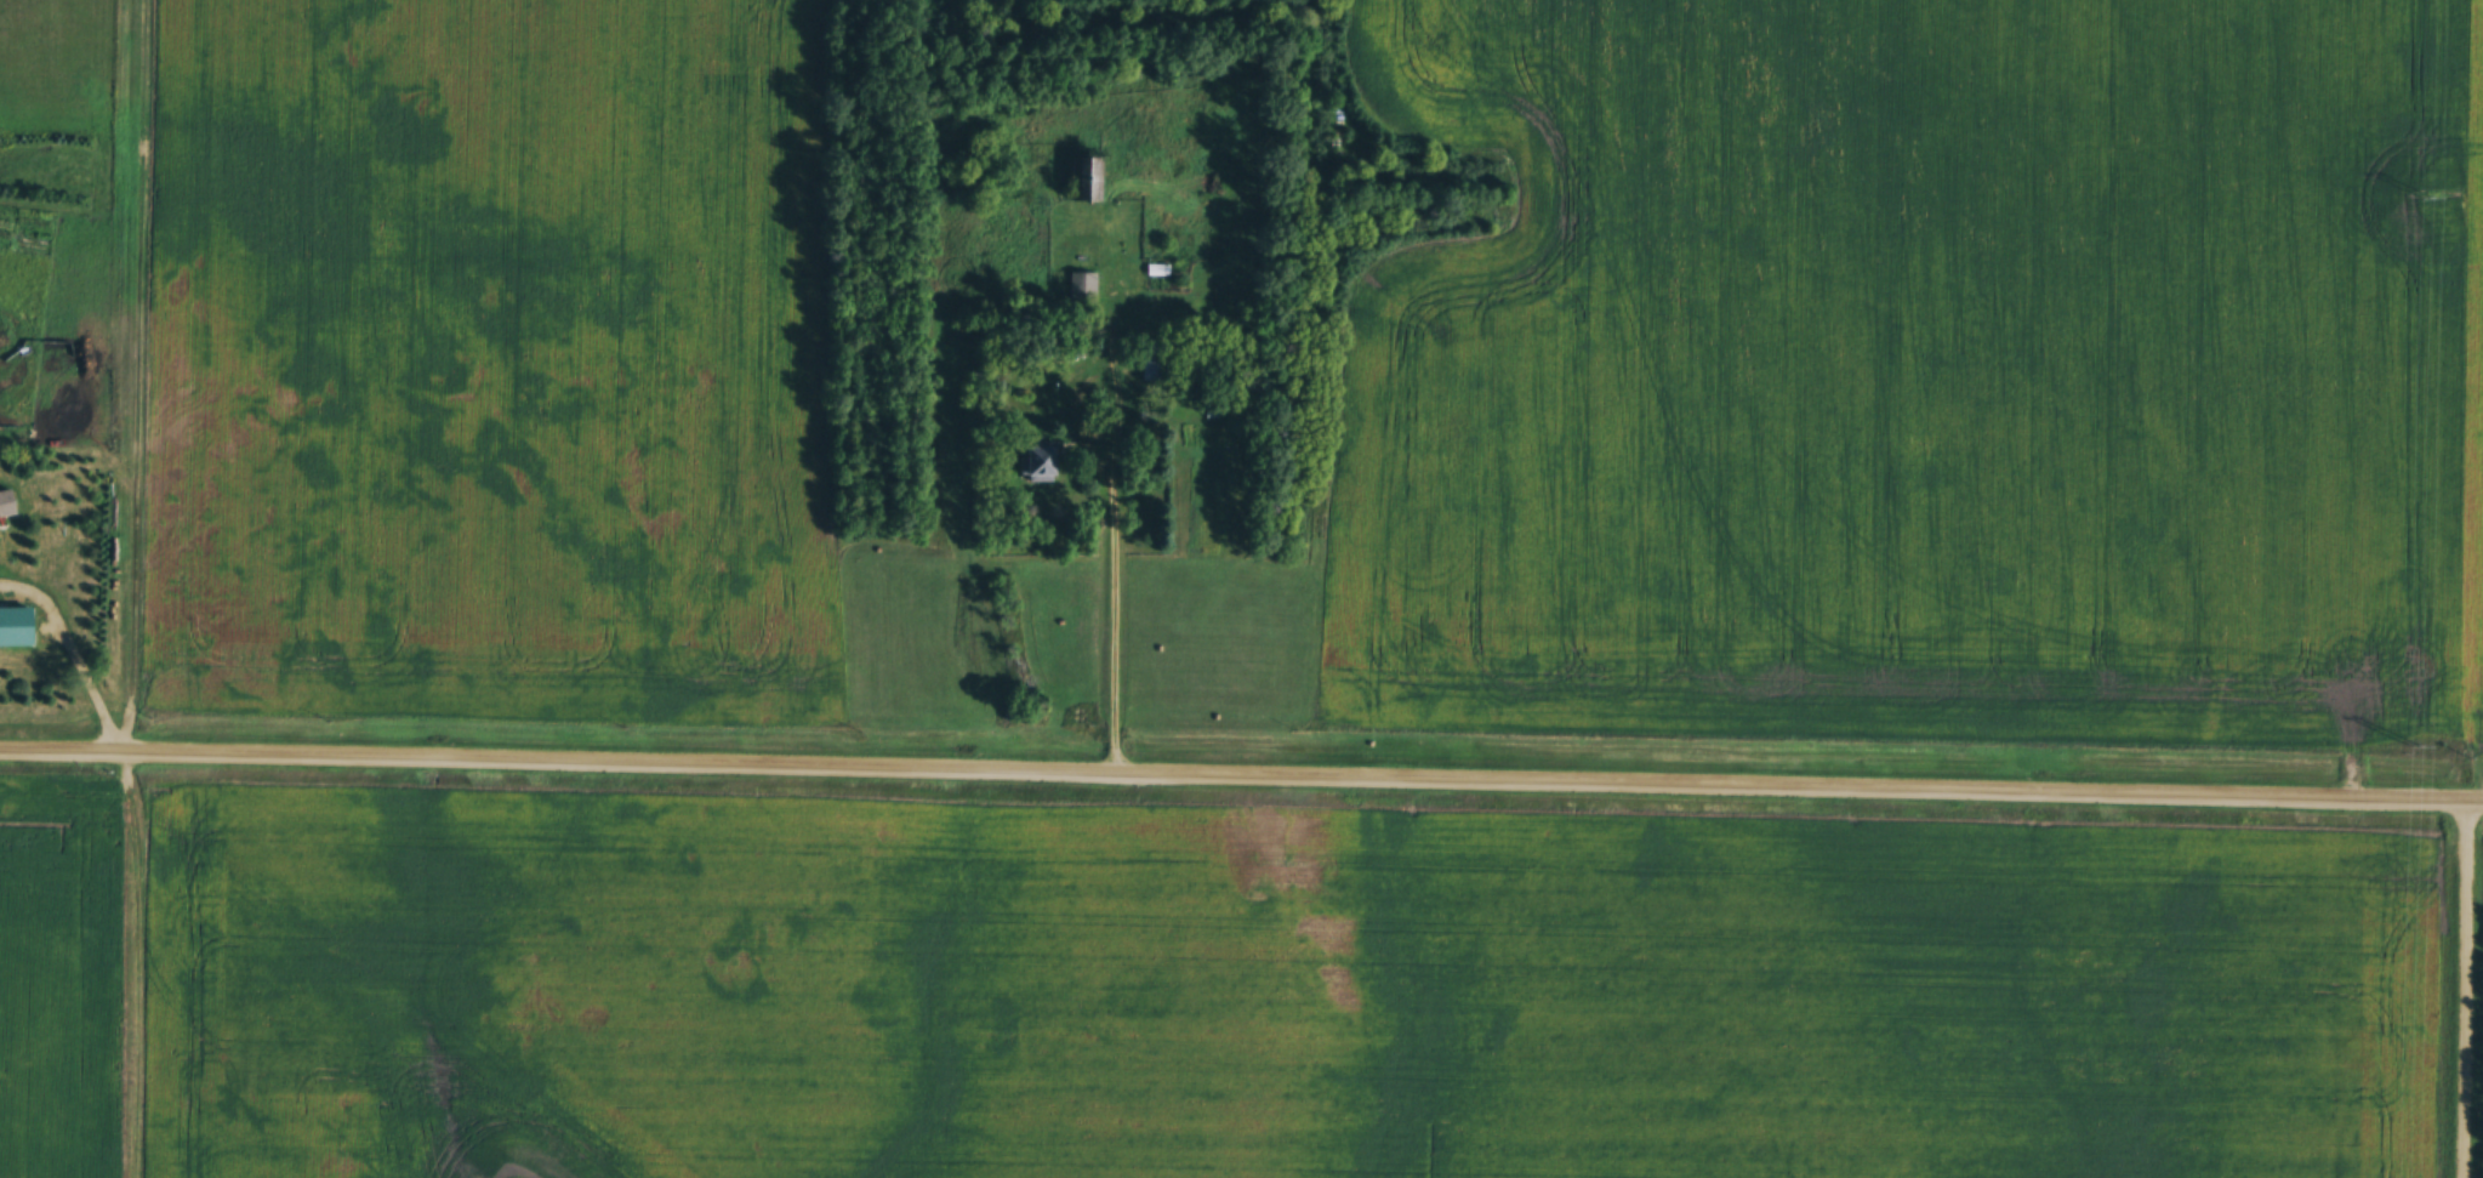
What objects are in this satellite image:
building: (1084, 183)
power tower: (2422, 199)
building: (1081, 291)
building: (1155, 363)
building: (1035, 465)
building: (5, 507)
road: (1107, 605)
building: (19, 641)
road: (87, 681)
power tower: (2410, 747)
road: (1241, 783)

